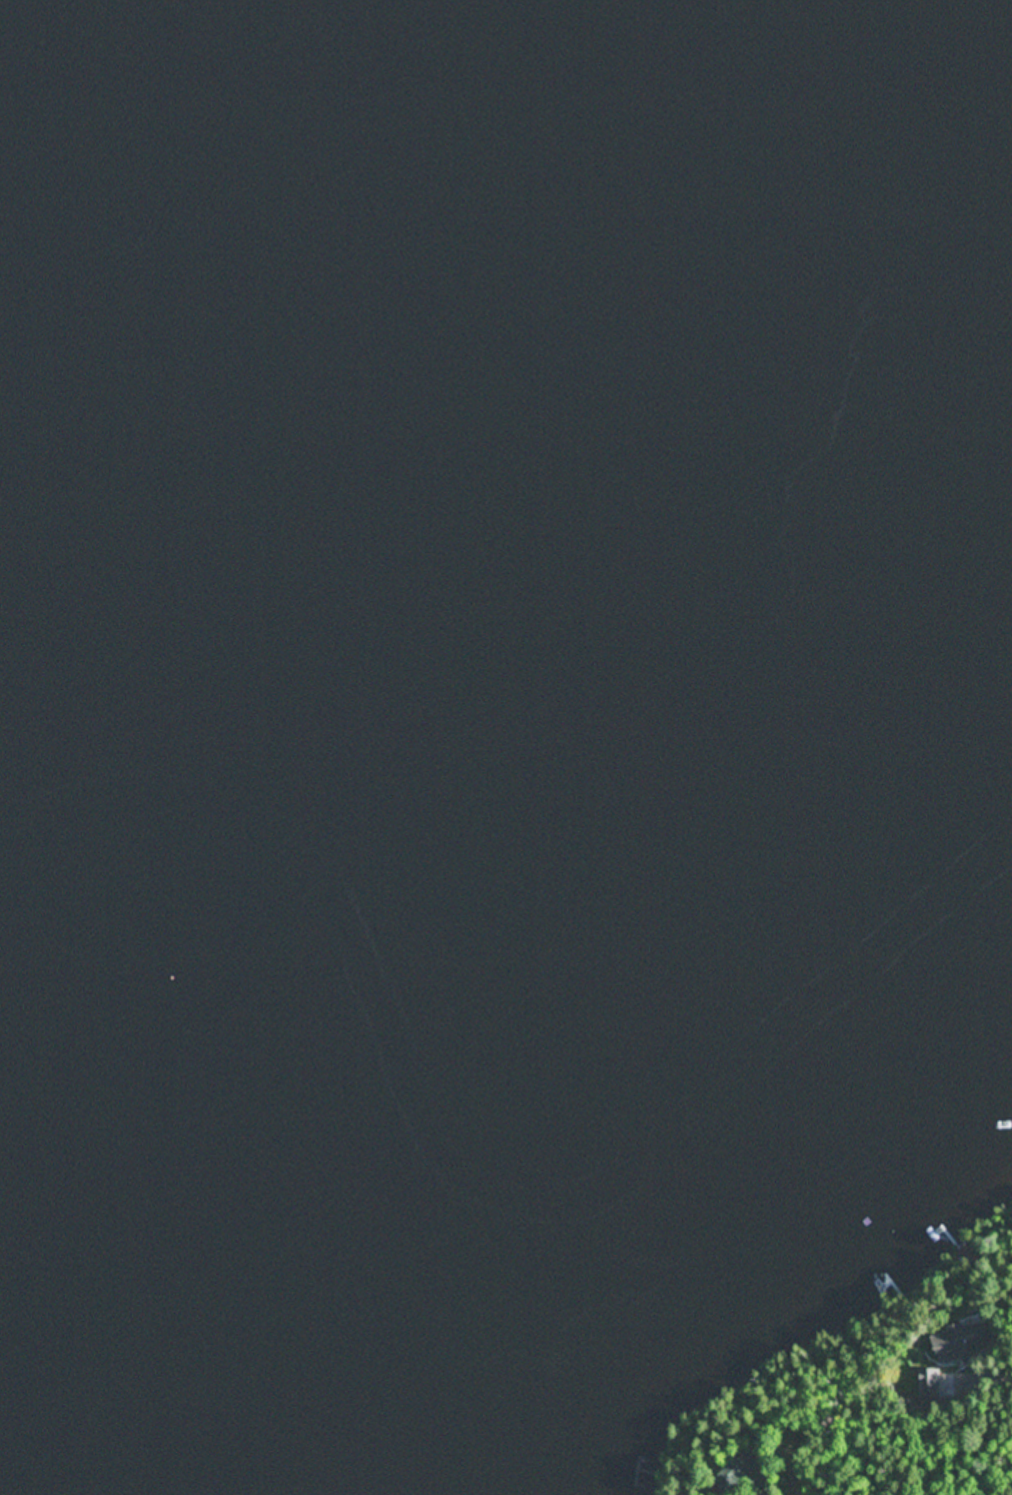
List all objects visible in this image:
river: (703, 154)
river: (344, 659)
road: (956, 1374)

